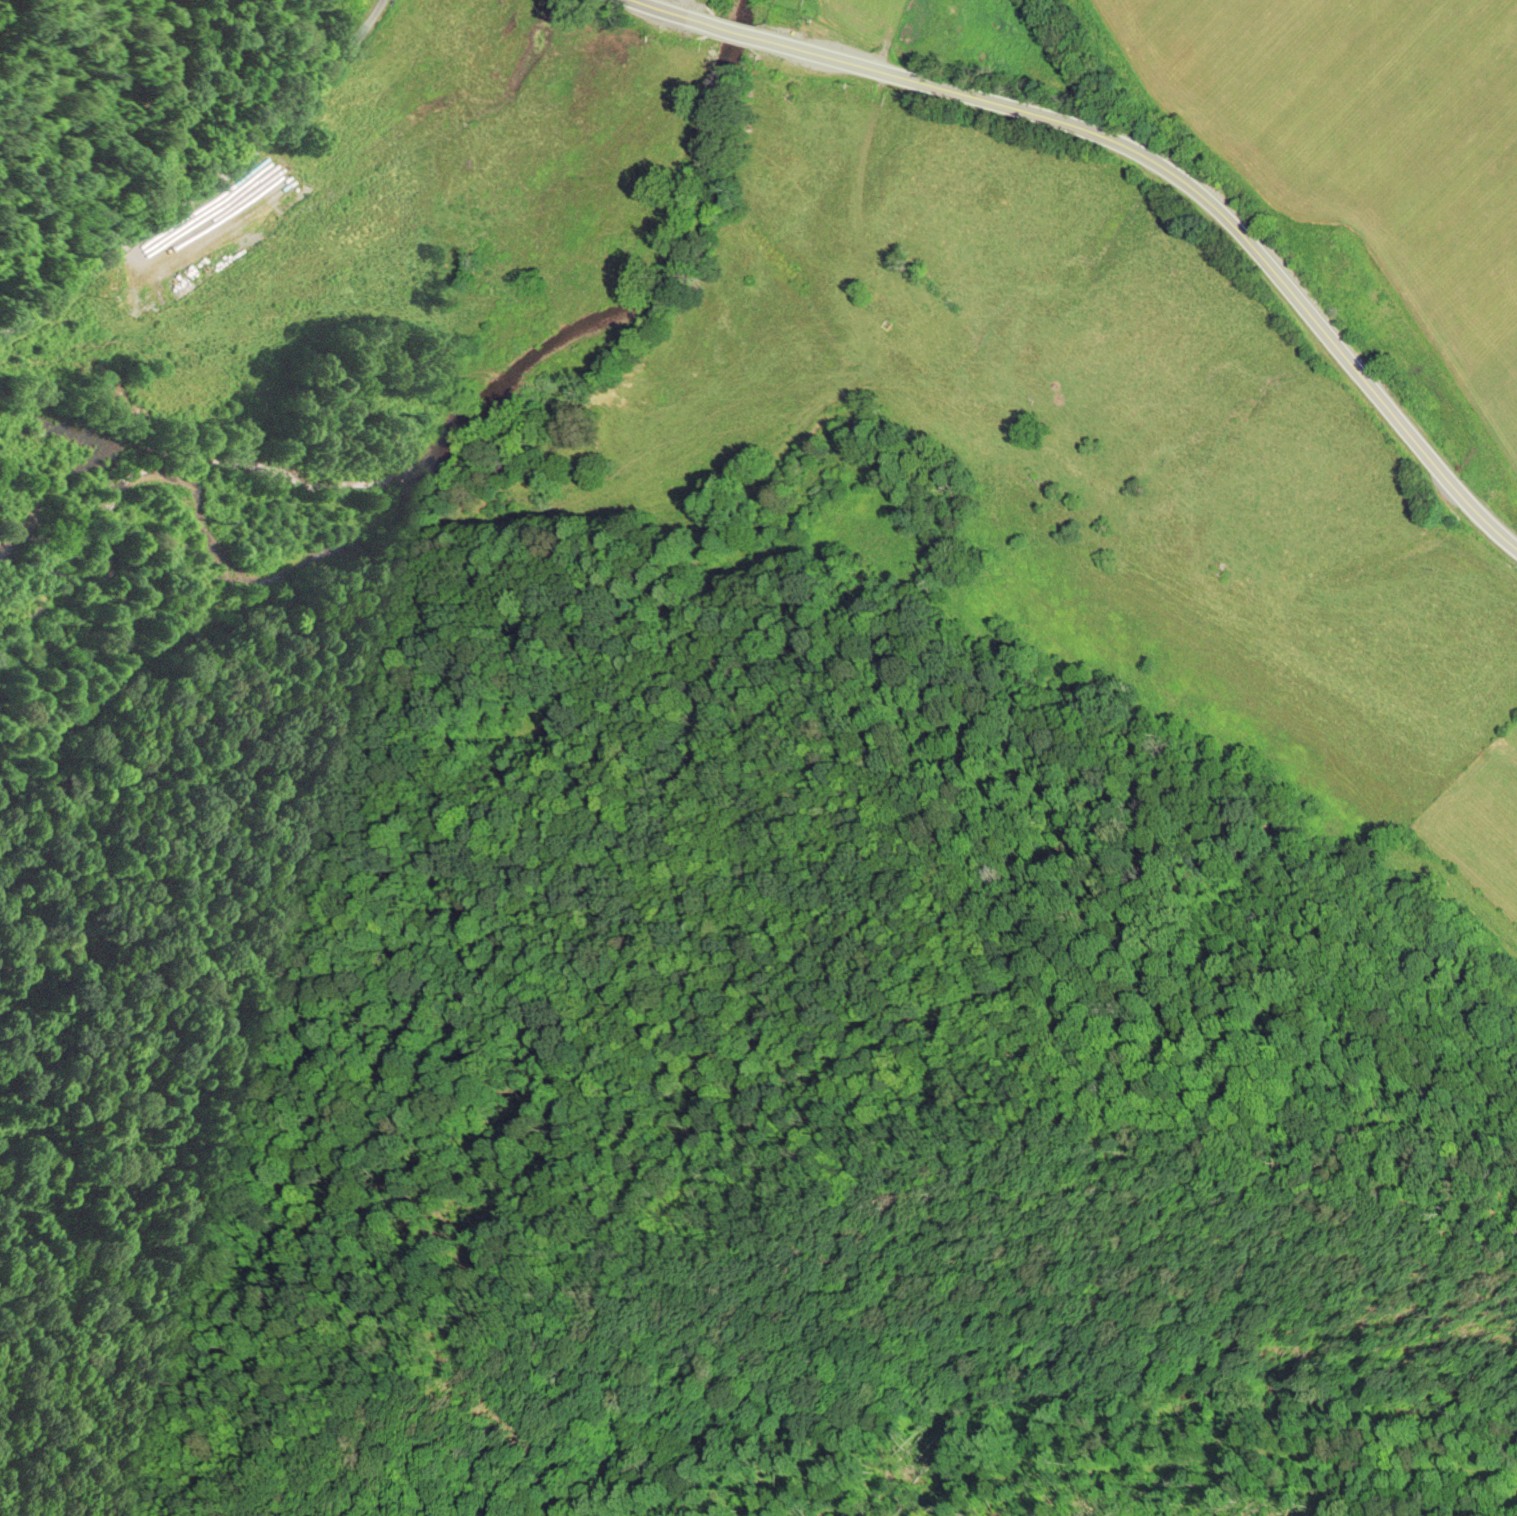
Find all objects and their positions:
road: (661, 6)
road: (721, 24)
road: (183, 155)
road: (1206, 194)

